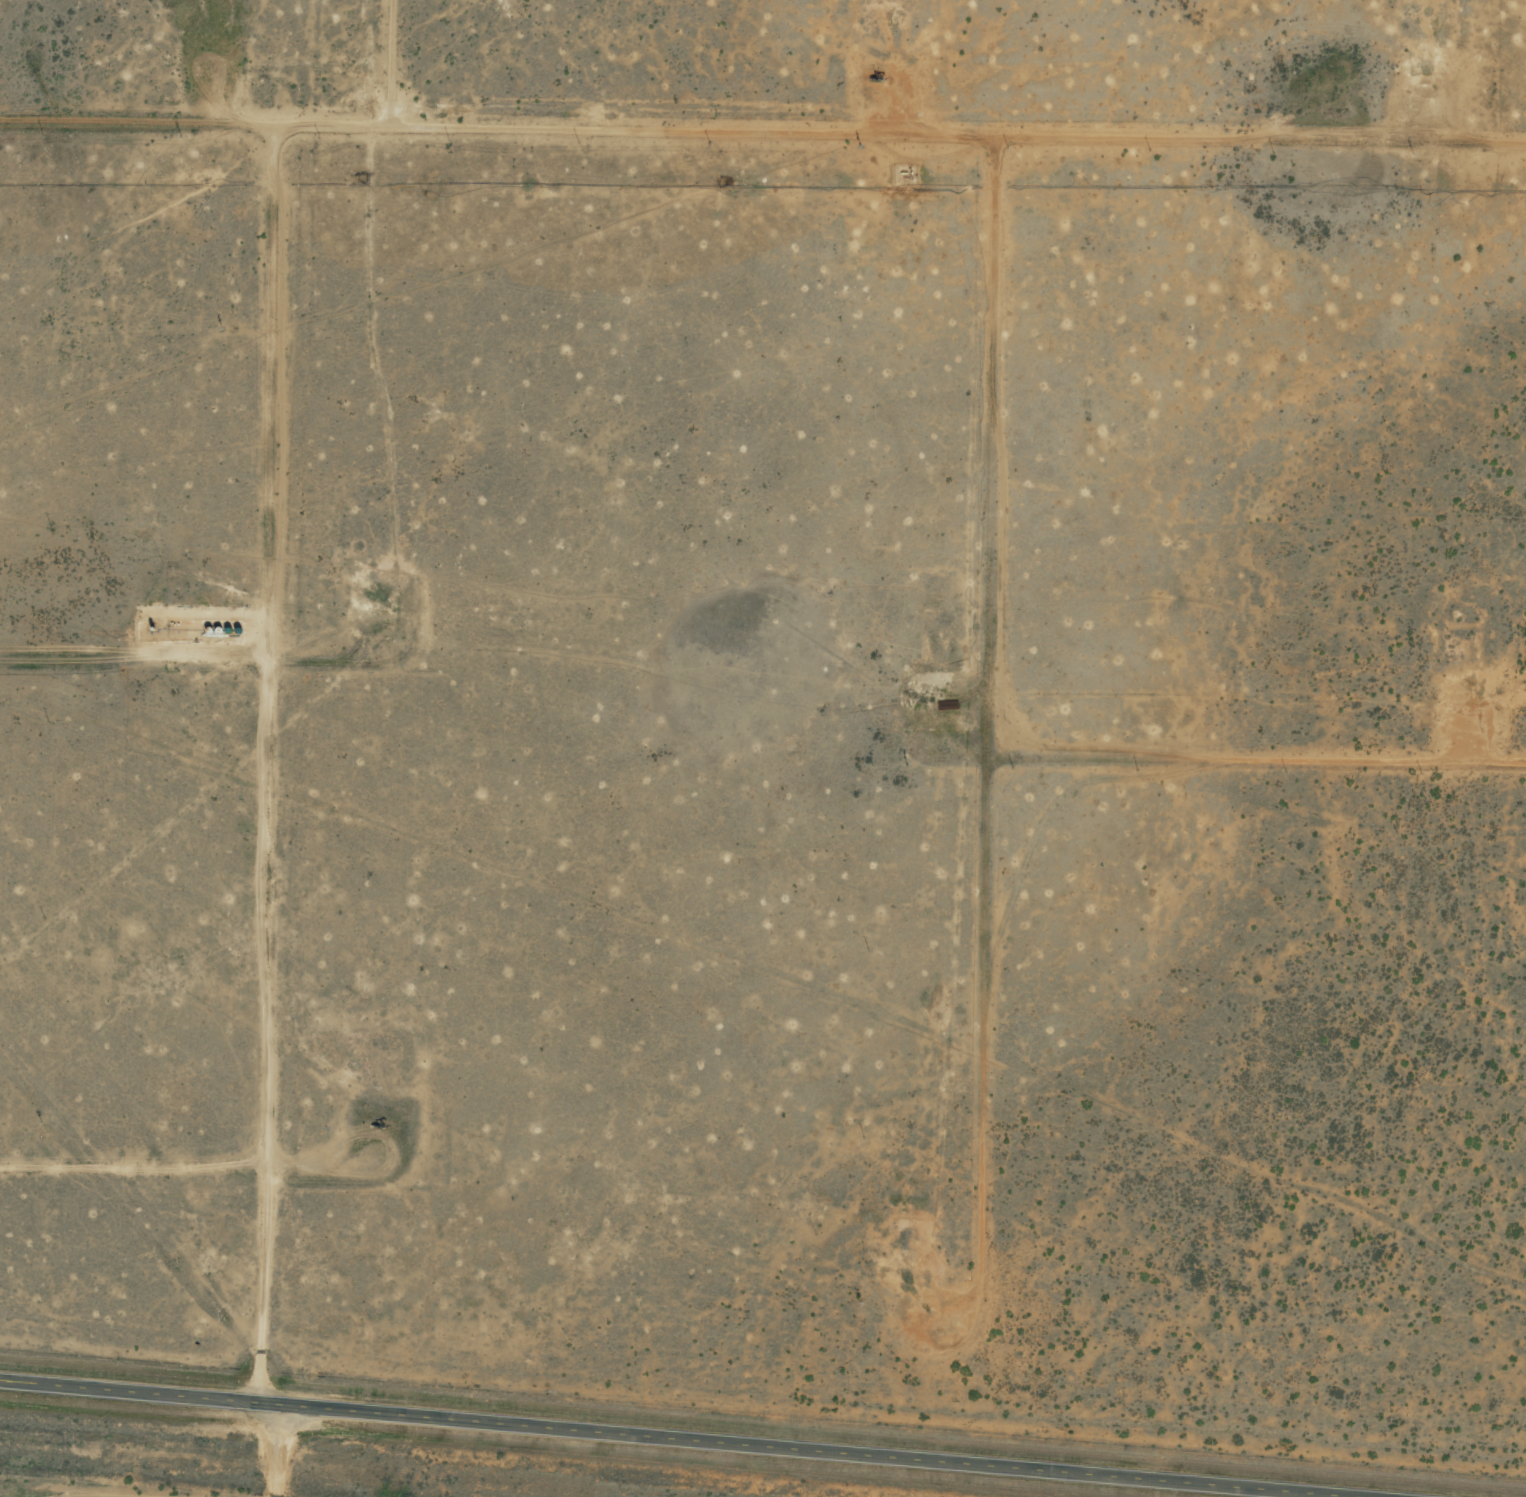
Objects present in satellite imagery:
road: (762, 181)
road: (771, 1008)
road: (150, 1228)
road: (700, 1434)
road: (289, 1445)

